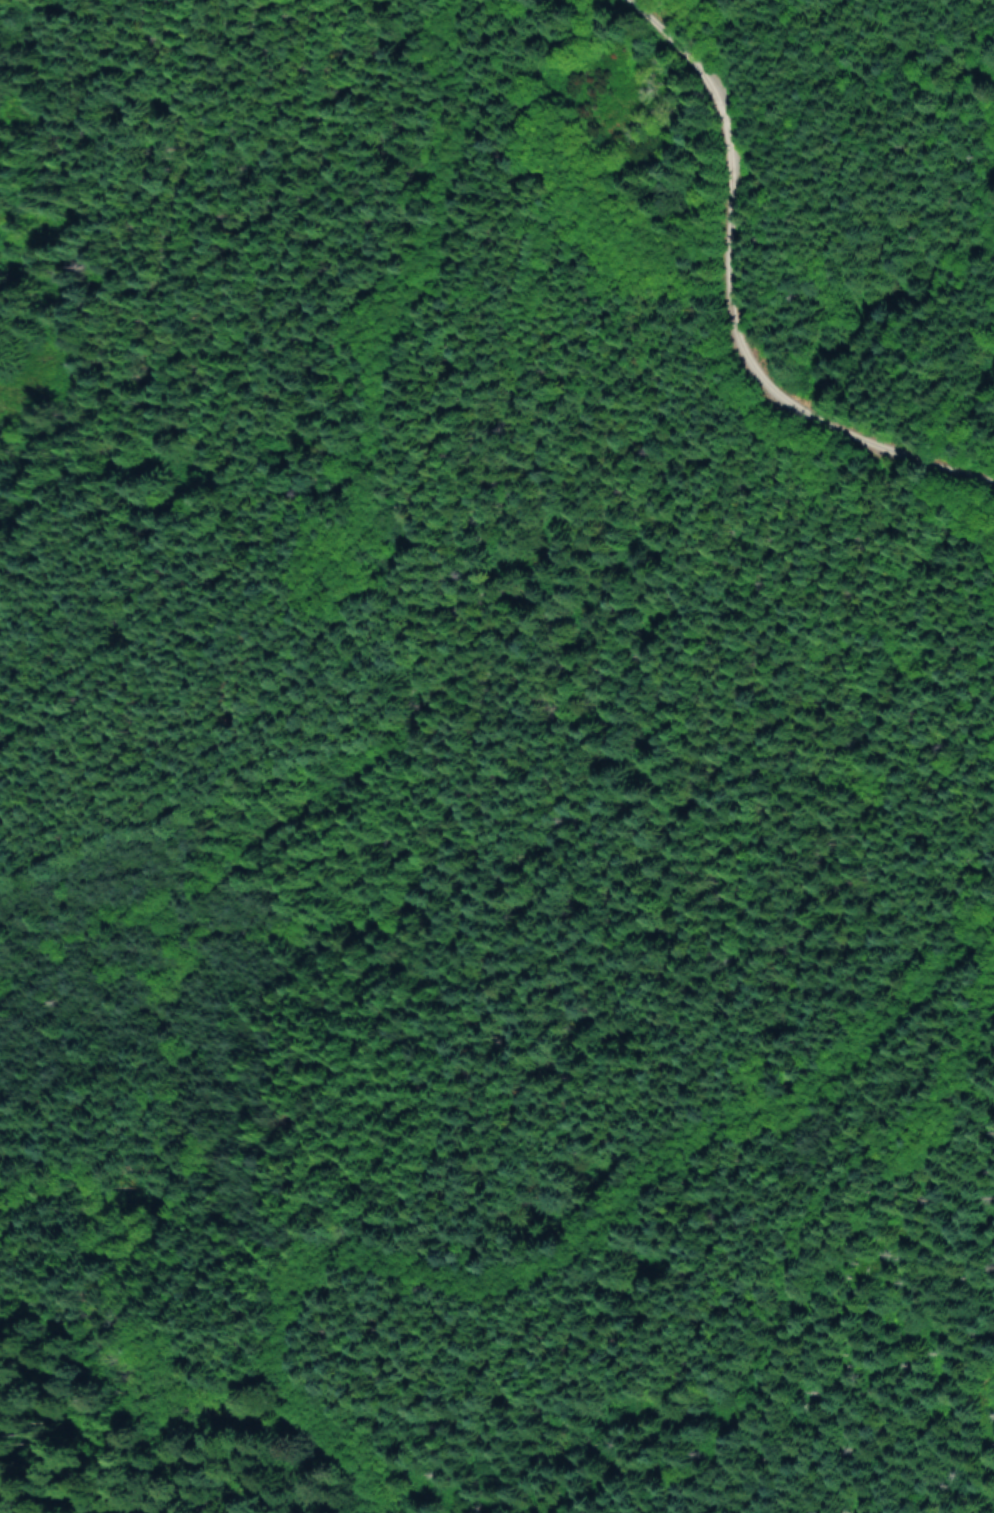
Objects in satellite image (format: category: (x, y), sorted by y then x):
road: (727, 302)
road: (597, 1190)

